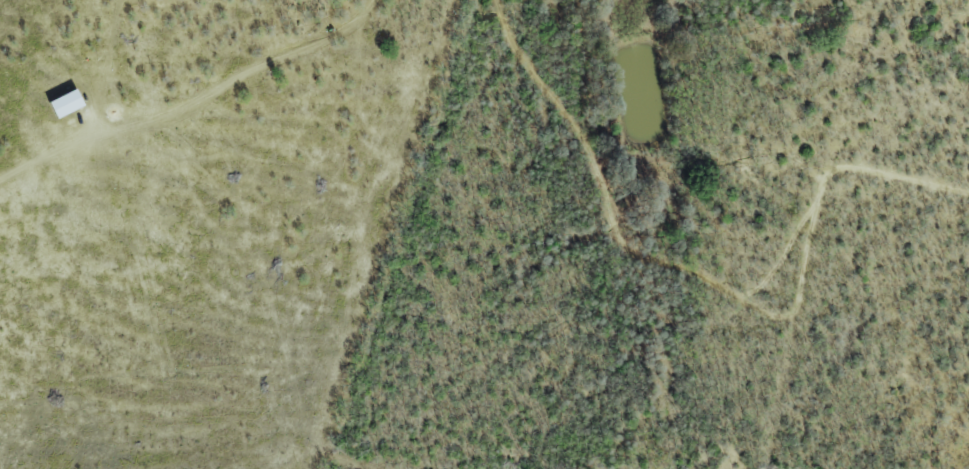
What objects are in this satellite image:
building: (64, 103)
road: (45, 157)

